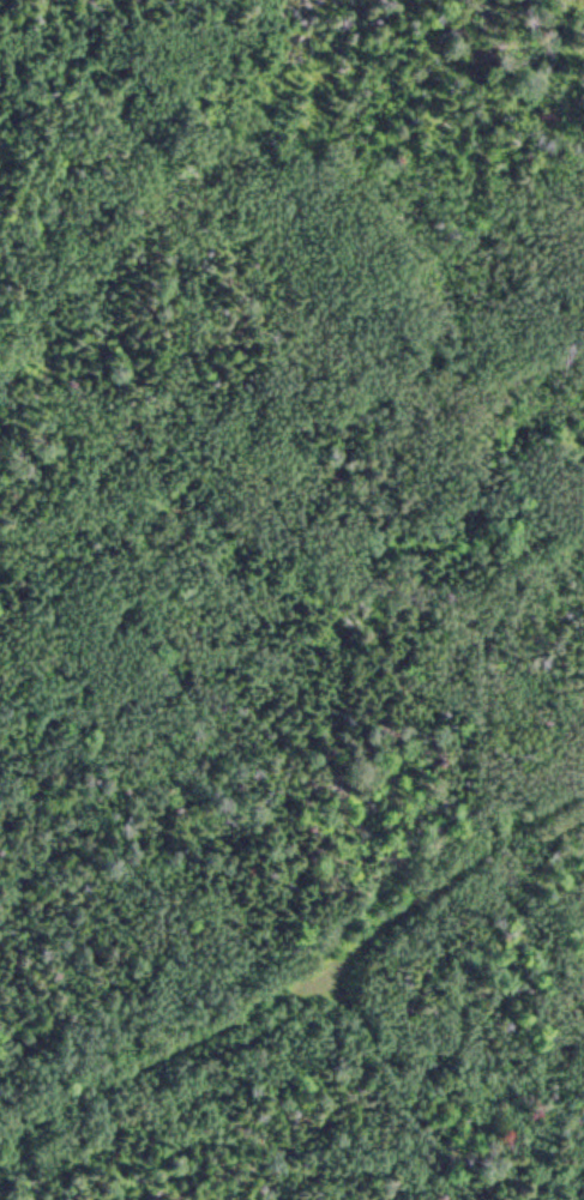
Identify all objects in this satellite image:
park: (291, 599)

